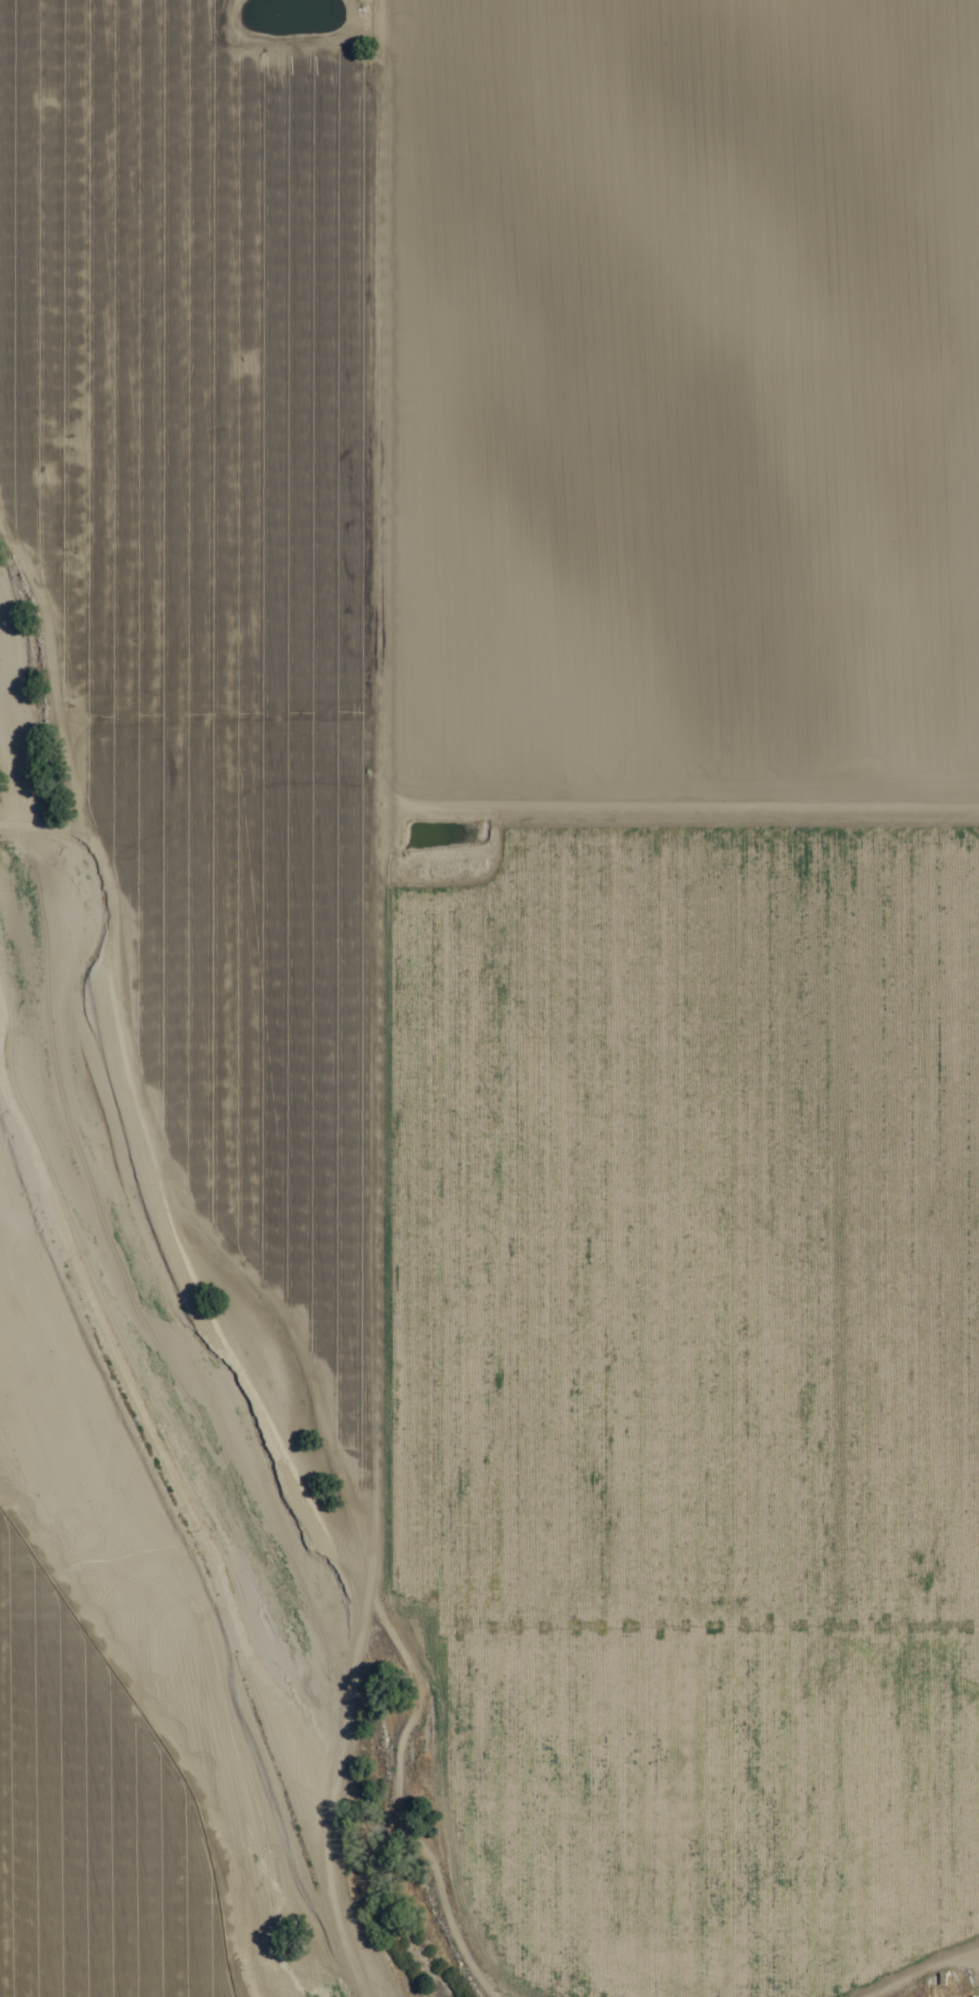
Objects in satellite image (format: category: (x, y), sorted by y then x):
wastewater plant: (294, 20)
road: (489, 798)
crop: (554, 879)
road: (341, 1003)
road: (676, 1642)
crop: (96, 1814)

